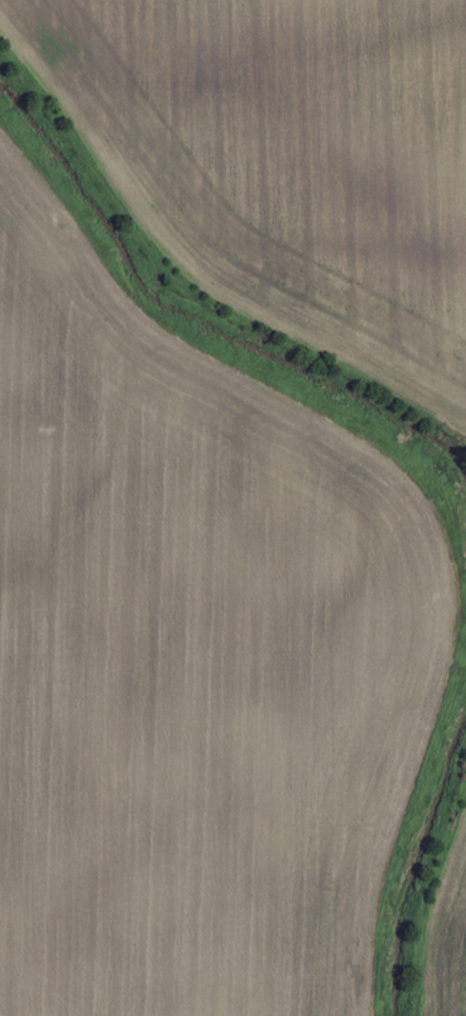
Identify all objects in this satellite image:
crop: (286, 162)
crop: (447, 936)

